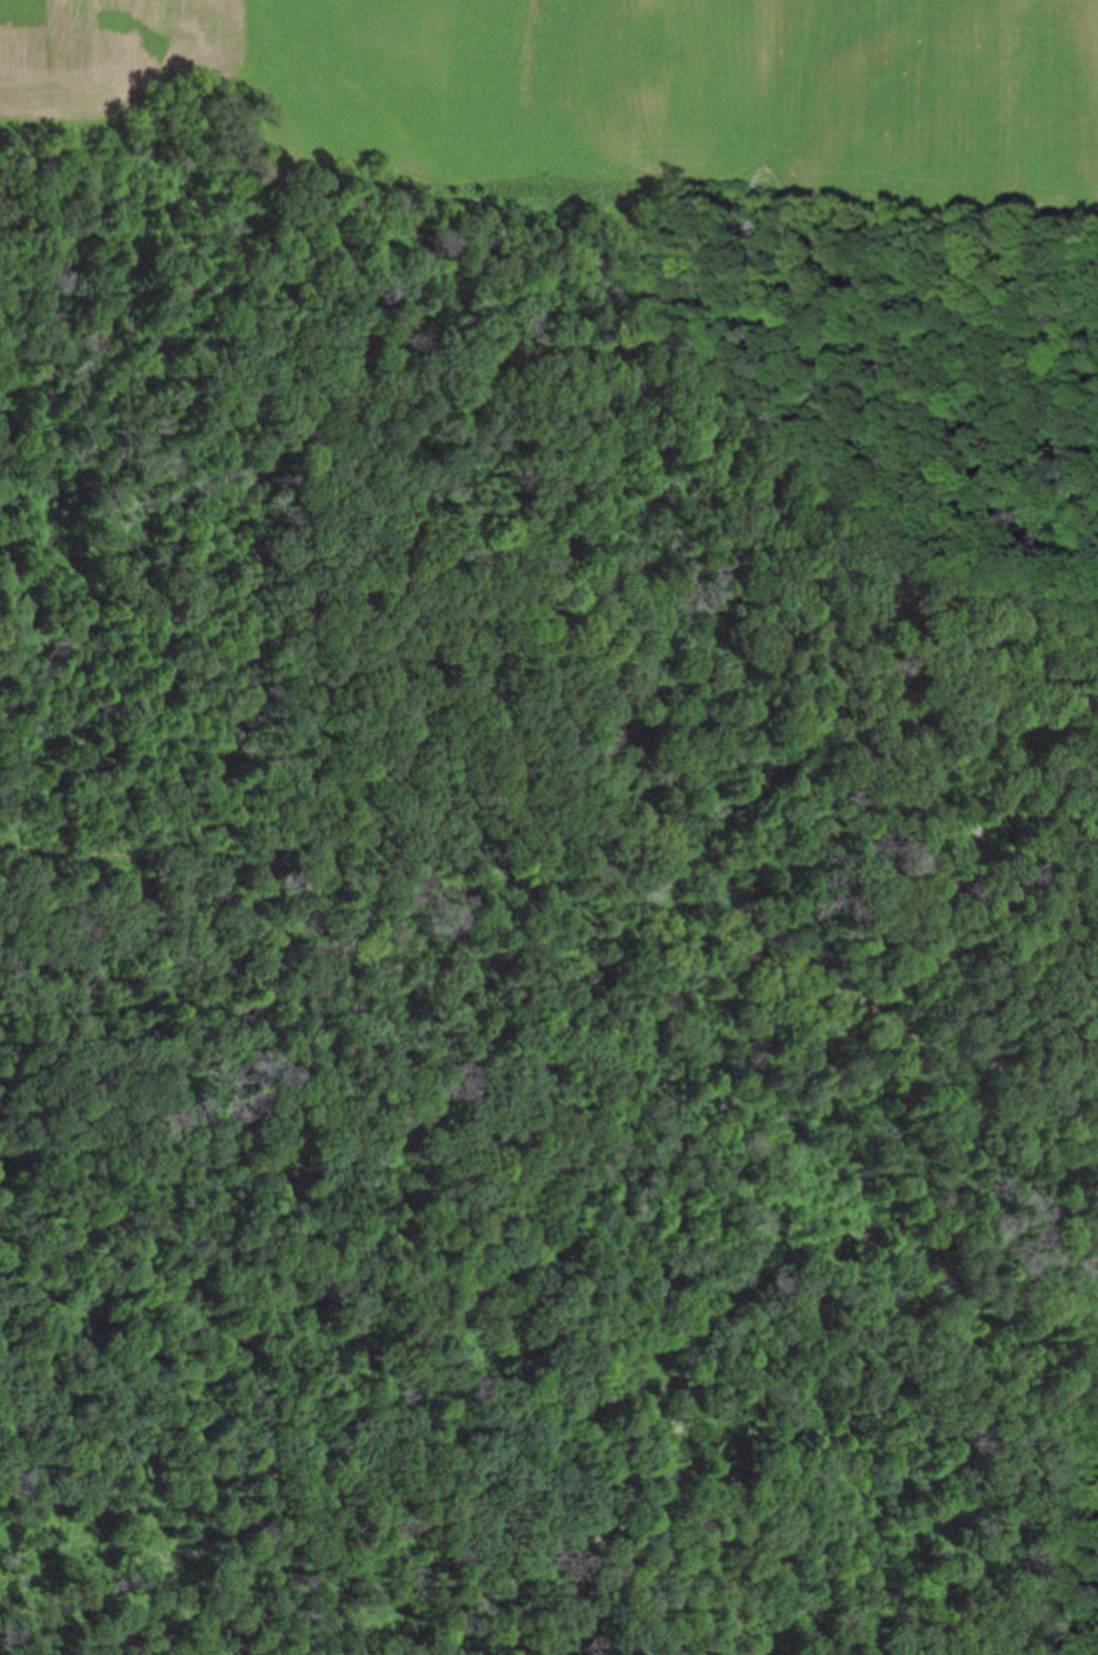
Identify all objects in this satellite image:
road: (862, 283)
park: (548, 941)
road: (563, 947)

